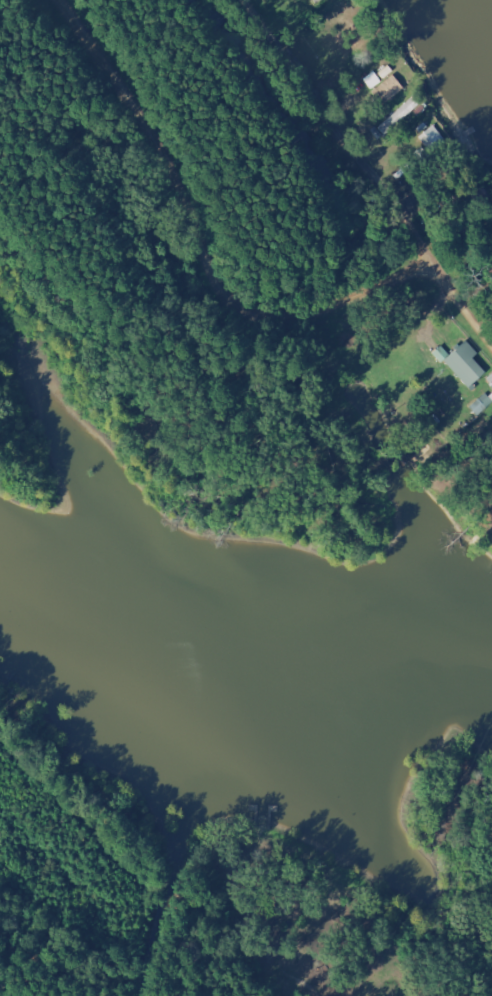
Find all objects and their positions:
building: (313, 0)
building: (371, 78)
building: (386, 88)
building: (431, 137)
road: (369, 170)
road: (197, 242)
building: (462, 362)
building: (482, 401)

